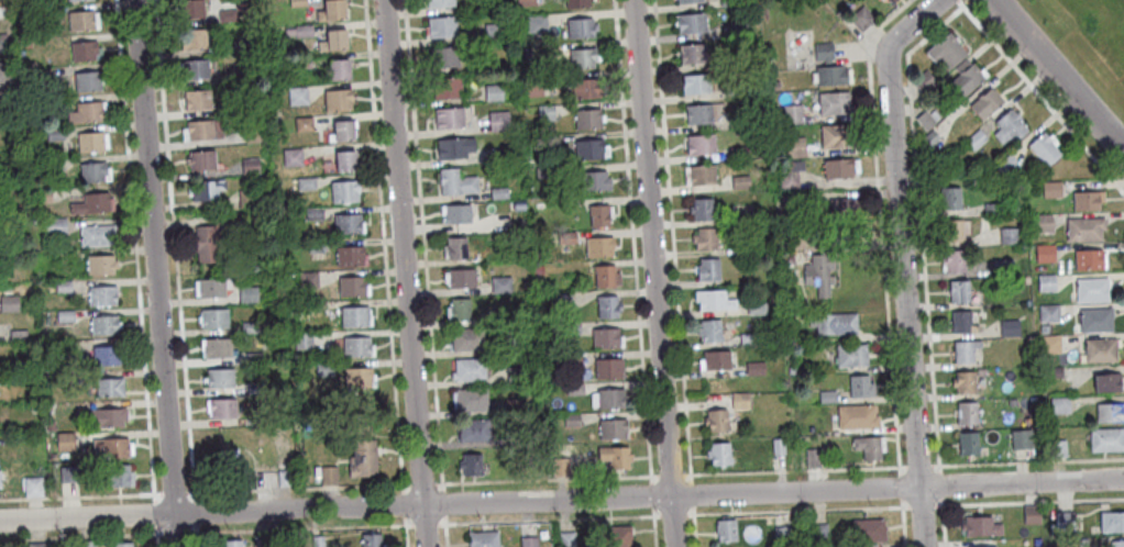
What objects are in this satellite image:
building: (834, 0)
building: (78, 1)
building: (893, 2)
road: (960, 2)
building: (525, 3)
building: (688, 3)
building: (297, 4)
building: (729, 4)
building: (439, 5)
building: (577, 5)
building: (189, 12)
building: (1, 14)
building: (331, 16)
building: (228, 19)
building: (861, 21)
building: (79, 24)
building: (536, 25)
road: (938, 26)
building: (691, 27)
building: (441, 31)
building: (580, 32)
building: (738, 32)
building: (493, 33)
building: (302, 34)
park: (1088, 41)
building: (194, 43)
building: (3, 44)
building: (245, 46)
building: (334, 46)
building: (944, 49)
building: (82, 54)
building: (692, 57)
building: (443, 59)
building: (582, 62)
building: (827, 69)
building: (192, 72)
building: (4, 74)
building: (338, 76)
building: (963, 76)
road: (1058, 76)
building: (247, 77)
building: (38, 81)
building: (87, 85)
building: (695, 88)
building: (532, 89)
building: (445, 91)
building: (584, 91)
building: (734, 93)
building: (493, 96)
road: (1044, 99)
building: (297, 100)
building: (983, 102)
building: (197, 103)
building: (833, 103)
building: (337, 104)
building: (5, 108)
building: (41, 108)
building: (544, 114)
building: (791, 114)
building: (85, 115)
building: (932, 115)
building: (698, 119)
building: (923, 120)
building: (449, 122)
building: (586, 122)
building: (737, 122)
building: (498, 123)
building: (302, 127)
building: (1007, 127)
building: (199, 133)
building: (54, 136)
building: (253, 136)
building: (342, 137)
building: (835, 137)
building: (927, 138)
building: (973, 139)
building: (89, 145)
building: (1042, 147)
building: (701, 148)
building: (794, 148)
building: (737, 152)
building: (453, 153)
building: (588, 153)
building: (499, 156)
building: (291, 159)
building: (201, 164)
building: (53, 166)
building: (344, 166)
building: (1005, 166)
building: (250, 167)
building: (836, 168)
building: (8, 174)
building: (91, 175)
building: (544, 175)
building: (701, 176)
building: (786, 180)
building: (739, 181)
building: (594, 185)
building: (306, 186)
building: (455, 186)
building: (1049, 189)
building: (206, 192)
building: (343, 196)
building: (498, 196)
building: (947, 197)
building: (1084, 199)
building: (247, 200)
building: (789, 201)
building: (91, 206)
building: (844, 206)
building: (701, 209)
building: (991, 209)
building: (10, 213)
building: (313, 215)
building: (456, 217)
building: (598, 220)
road: (880, 223)
building: (1040, 224)
building: (346, 227)
building: (54, 228)
building: (1082, 228)
building: (950, 230)
road: (632, 236)
building: (1006, 236)
building: (96, 238)
road: (673, 238)
building: (704, 238)
building: (792, 239)
building: (566, 241)
building: (210, 242)
road: (423, 244)
road: (134, 245)
road: (383, 245)
road: (174, 247)
building: (316, 248)
building: (597, 252)
building: (455, 253)
building: (1043, 254)
road: (923, 258)
building: (349, 259)
building: (1086, 259)
building: (951, 260)
road: (901, 261)
building: (100, 268)
building: (1001, 268)
building: (706, 269)
building: (536, 271)
road: (652, 272)
road: (154, 273)
road: (404, 273)
building: (817, 273)
building: (308, 281)
building: (606, 281)
building: (1044, 282)
building: (461, 283)
building: (500, 288)
building: (64, 289)
building: (956, 289)
building: (1089, 289)
building: (351, 290)
building: (210, 292)
building: (247, 295)
building: (101, 300)
building: (712, 300)
building: (561, 304)
building: (9, 306)
building: (300, 309)
building: (754, 309)
building: (606, 311)
building: (459, 313)
building: (1047, 313)
building: (65, 319)
building: (502, 319)
building: (1094, 320)
building: (354, 321)
building: (213, 322)
building: (960, 322)
building: (835, 323)
building: (1007, 328)
building: (1042, 328)
building: (103, 330)
building: (250, 330)
building: (569, 331)
building: (708, 331)
building: (18, 338)
building: (748, 339)
building: (302, 343)
building: (604, 343)
building: (466, 344)
building: (1048, 344)
building: (511, 348)
building: (355, 349)
building: (962, 349)
building: (1097, 350)
building: (65, 353)
building: (217, 353)
building: (849, 355)
building: (106, 360)
building: (253, 360)
building: (570, 361)
building: (715, 361)
building: (753, 369)
building: (324, 371)
building: (607, 372)
building: (1051, 372)
building: (469, 373)
building: (515, 377)
building: (356, 380)
building: (2, 381)
building: (962, 381)
building: (1106, 381)
building: (219, 382)
building: (859, 387)
building: (109, 391)
building: (255, 391)
building: (573, 392)
building: (826, 397)
building: (738, 401)
building: (610, 402)
building: (471, 403)
building: (1010, 403)
building: (1058, 405)
building: (963, 412)
building: (1108, 412)
building: (222, 413)
building: (855, 416)
building: (716, 421)
building: (106, 422)
building: (571, 423)
building: (49, 428)
building: (611, 433)
building: (473, 434)
building: (1020, 438)
building: (1105, 439)
building: (967, 442)
building: (65, 445)
building: (776, 446)
building: (867, 447)
building: (1056, 448)
building: (113, 451)
building: (718, 454)
building: (614, 457)
road: (1086, 459)
building: (52, 460)
road: (985, 462)
building: (362, 464)
building: (560, 465)
road: (918, 465)
building: (227, 468)
building: (470, 468)
road: (852, 468)
road: (738, 471)
road: (685, 472)
building: (328, 473)
road: (669, 473)
road: (652, 475)
building: (283, 476)
building: (68, 478)
road: (544, 478)
road: (649, 478)
building: (118, 479)
road: (437, 482)
road: (405, 483)
road: (420, 483)
road: (900, 484)
road: (939, 484)
building: (32, 485)
road: (297, 487)
road: (157, 491)
road: (174, 491)
road: (190, 491)
road: (691, 492)
road: (77, 494)
road: (154, 494)
road: (650, 494)
road: (561, 496)
road: (1088, 499)
road: (441, 502)
road: (403, 503)
road: (991, 503)
road: (922, 505)
road: (692, 509)
road: (796, 509)
road: (194, 510)
road: (651, 511)
road: (154, 512)
road: (688, 512)
road: (655, 513)
road: (672, 513)
building: (1029, 514)
road: (548, 518)
road: (403, 520)
road: (442, 520)
building: (1064, 522)
building: (1111, 522)
road: (440, 523)
road: (406, 524)
road: (422, 524)
building: (978, 525)
road: (903, 526)
road: (943, 526)
road: (299, 527)
road: (155, 529)
road: (693, 529)
building: (724, 529)
building: (866, 529)
road: (653, 531)
road: (175, 532)
road: (192, 532)
road: (158, 533)
building: (817, 534)
road: (77, 535)
road: (196, 535)
road: (404, 535)
road: (443, 535)
building: (781, 535)
building: (608, 536)
building: (482, 538)
road: (155, 539)
building: (368, 539)
building: (565, 539)
building: (316, 542)
building: (527, 542)
building: (264, 543)
building: (1080, 543)
building: (87, 544)
building: (121, 544)
building: (231, 544)
building: (1117, 544)
building: (35, 546)
building: (984, 546)

